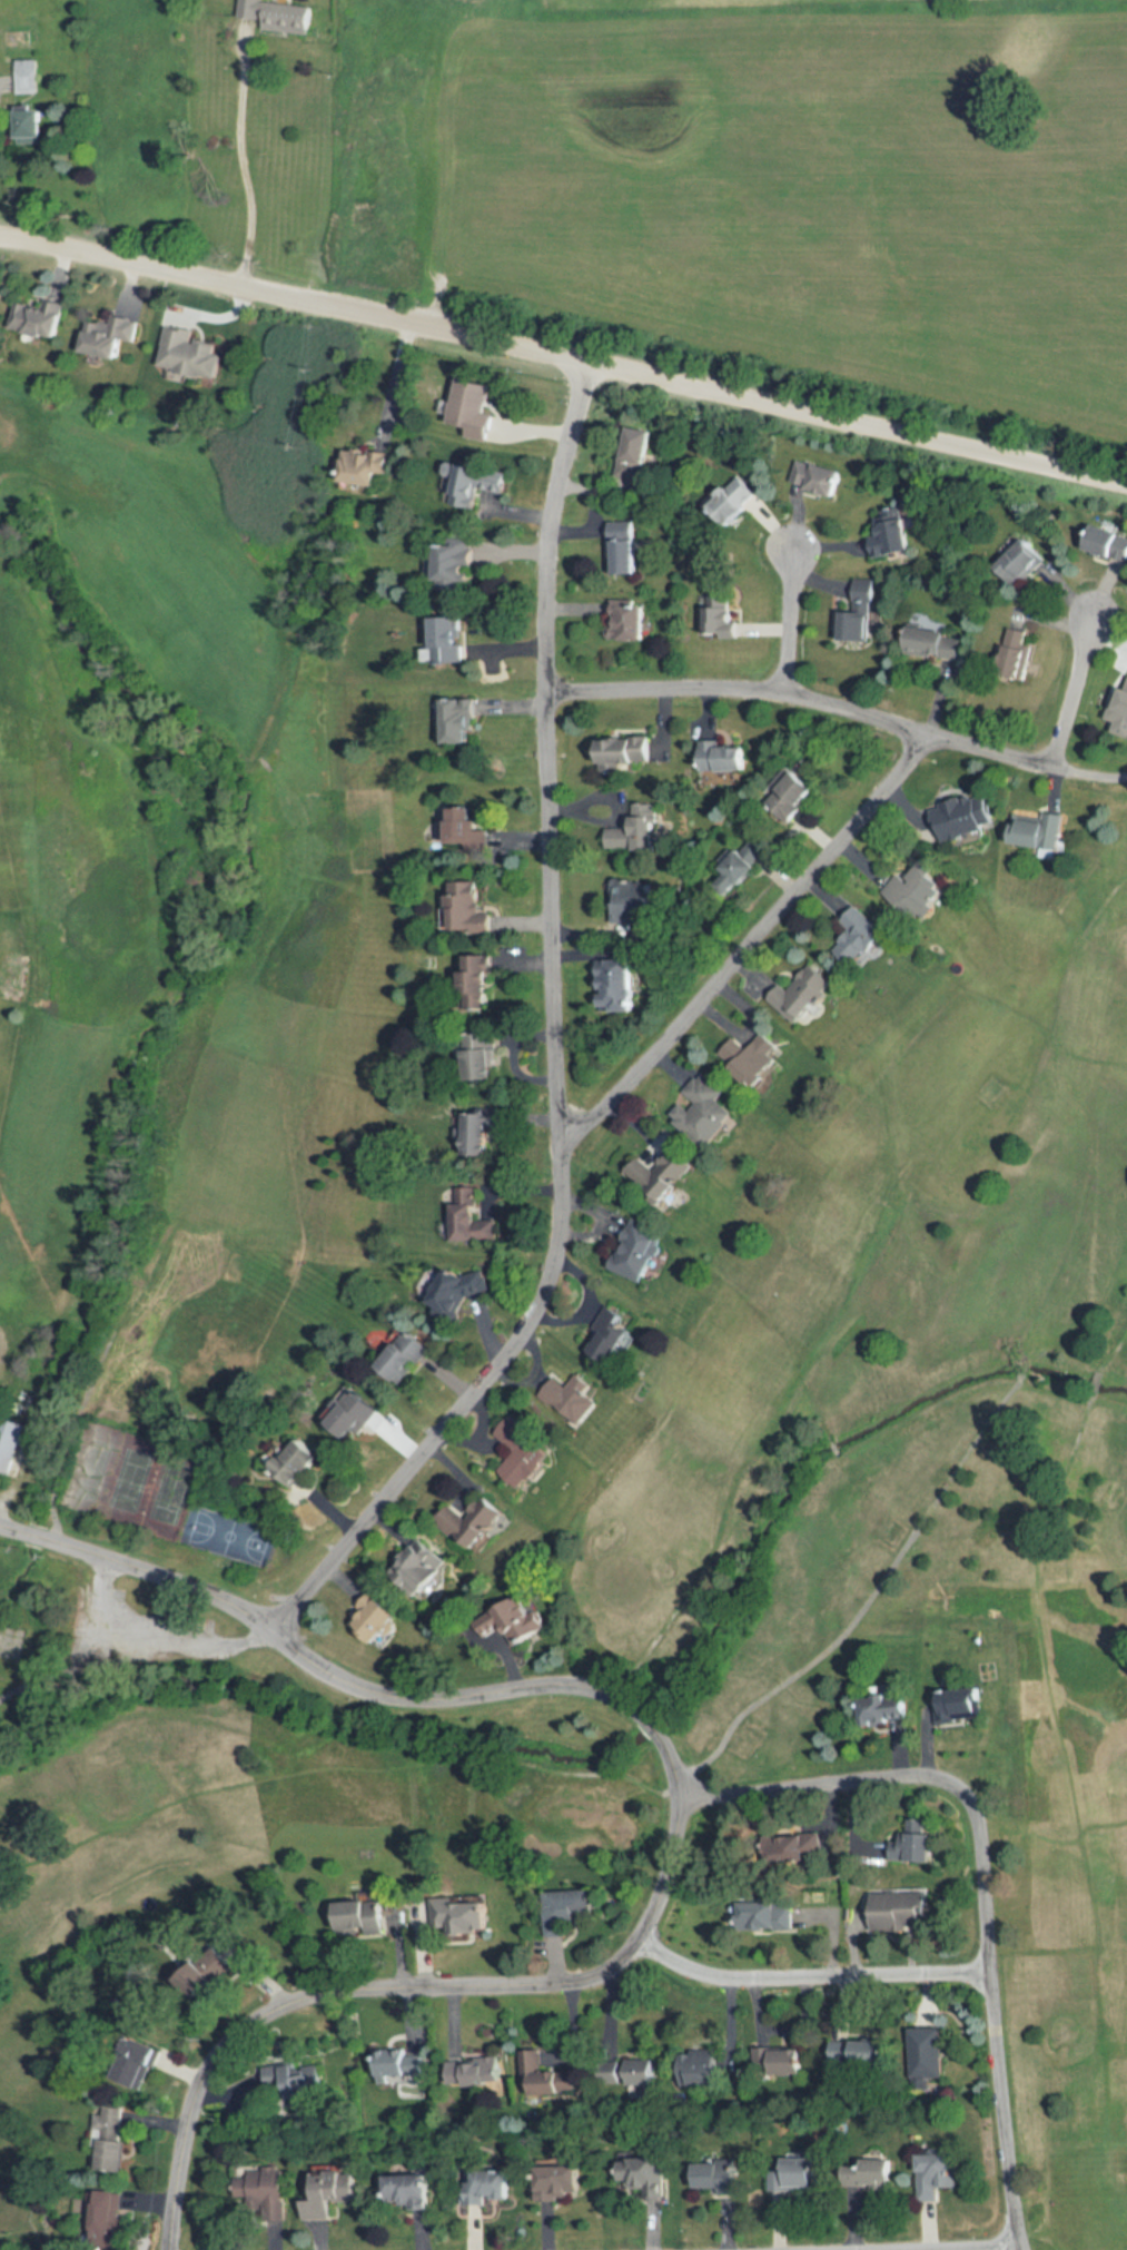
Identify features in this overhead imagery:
building: (284, 14)
building: (29, 76)
building: (36, 121)
road: (244, 168)
building: (39, 317)
building: (111, 335)
building: (194, 352)
road: (563, 359)
road: (393, 381)
building: (474, 407)
building: (639, 455)
building: (367, 465)
building: (819, 477)
building: (475, 483)
building: (742, 504)
building: (894, 533)
building: (1110, 542)
building: (625, 546)
building: (1022, 563)
building: (458, 564)
building: (860, 612)
building: (716, 614)
building: (631, 619)
road: (792, 623)
building: (451, 639)
building: (935, 643)
building: (1020, 651)
road: (1070, 689)
road: (840, 707)
building: (1125, 710)
building: (459, 720)
building: (626, 752)
building: (724, 757)
road: (1125, 779)
building: (791, 793)
building: (965, 815)
building: (644, 827)
building: (468, 829)
building: (1039, 829)
building: (745, 867)
building: (918, 891)
building: (634, 901)
building: (471, 908)
building: (863, 937)
road: (751, 949)
building: (481, 983)
building: (621, 986)
building: (808, 995)
road: (557, 1043)
building: (480, 1056)
building: (753, 1059)
building: (705, 1111)
building: (478, 1132)
building: (661, 1168)
building: (472, 1216)
building: (639, 1252)
park: (906, 1280)
building: (456, 1293)
building: (611, 1335)
building: (404, 1356)
building: (576, 1400)
building: (349, 1412)
building: (9, 1444)
building: (526, 1449)
building: (299, 1466)
park: (125, 1481)
building: (476, 1522)
park: (220, 1537)
building: (425, 1569)
building: (378, 1618)
building: (517, 1619)
building: (959, 1705)
building: (889, 1708)
road: (681, 1808)
building: (912, 1847)
building: (798, 1849)
road: (988, 1874)
building: (904, 1908)
building: (569, 1909)
building: (463, 1916)
building: (767, 1916)
building: (364, 1917)
road: (814, 1976)
building: (861, 2052)
building: (930, 2053)
building: (780, 2060)
building: (141, 2062)
building: (397, 2064)
building: (703, 2068)
building: (643, 2072)
building: (477, 2073)
building: (547, 2076)
building: (294, 2081)
building: (113, 2142)
building: (913, 2171)
building: (802, 2174)
building: (643, 2175)
building: (718, 2177)
building: (561, 2183)
building: (488, 2188)
building: (267, 2191)
building: (411, 2192)
building: (328, 2195)
building: (106, 2220)
road: (986, 2249)

